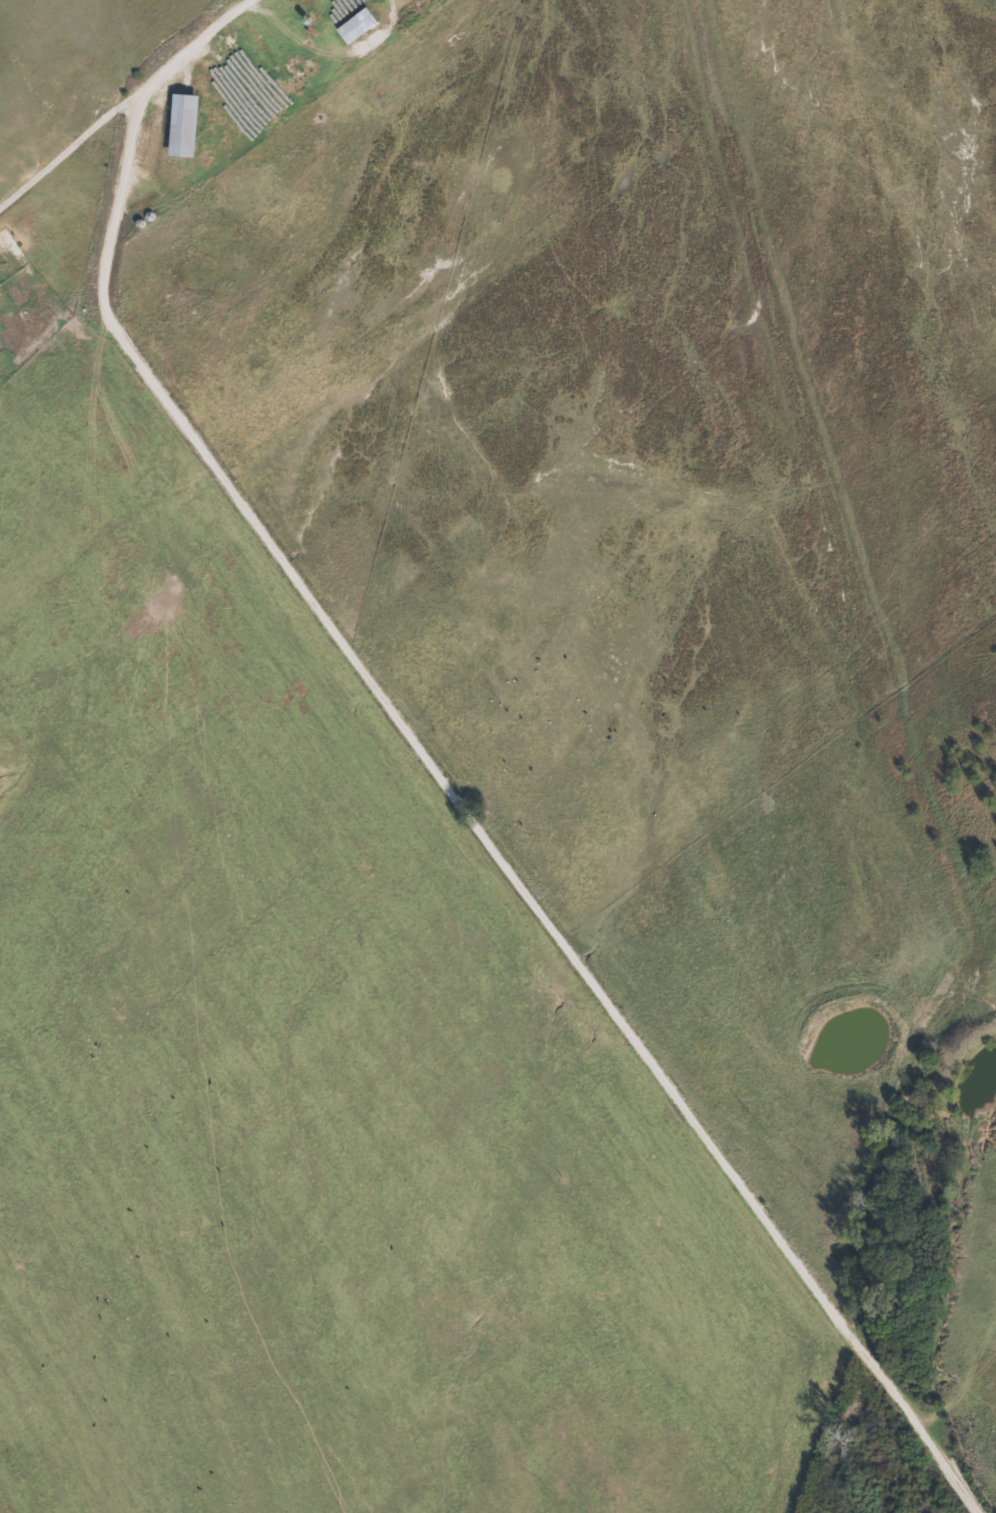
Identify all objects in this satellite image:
building: (354, 26)
building: (179, 125)
road: (393, 770)
road: (797, 1421)

